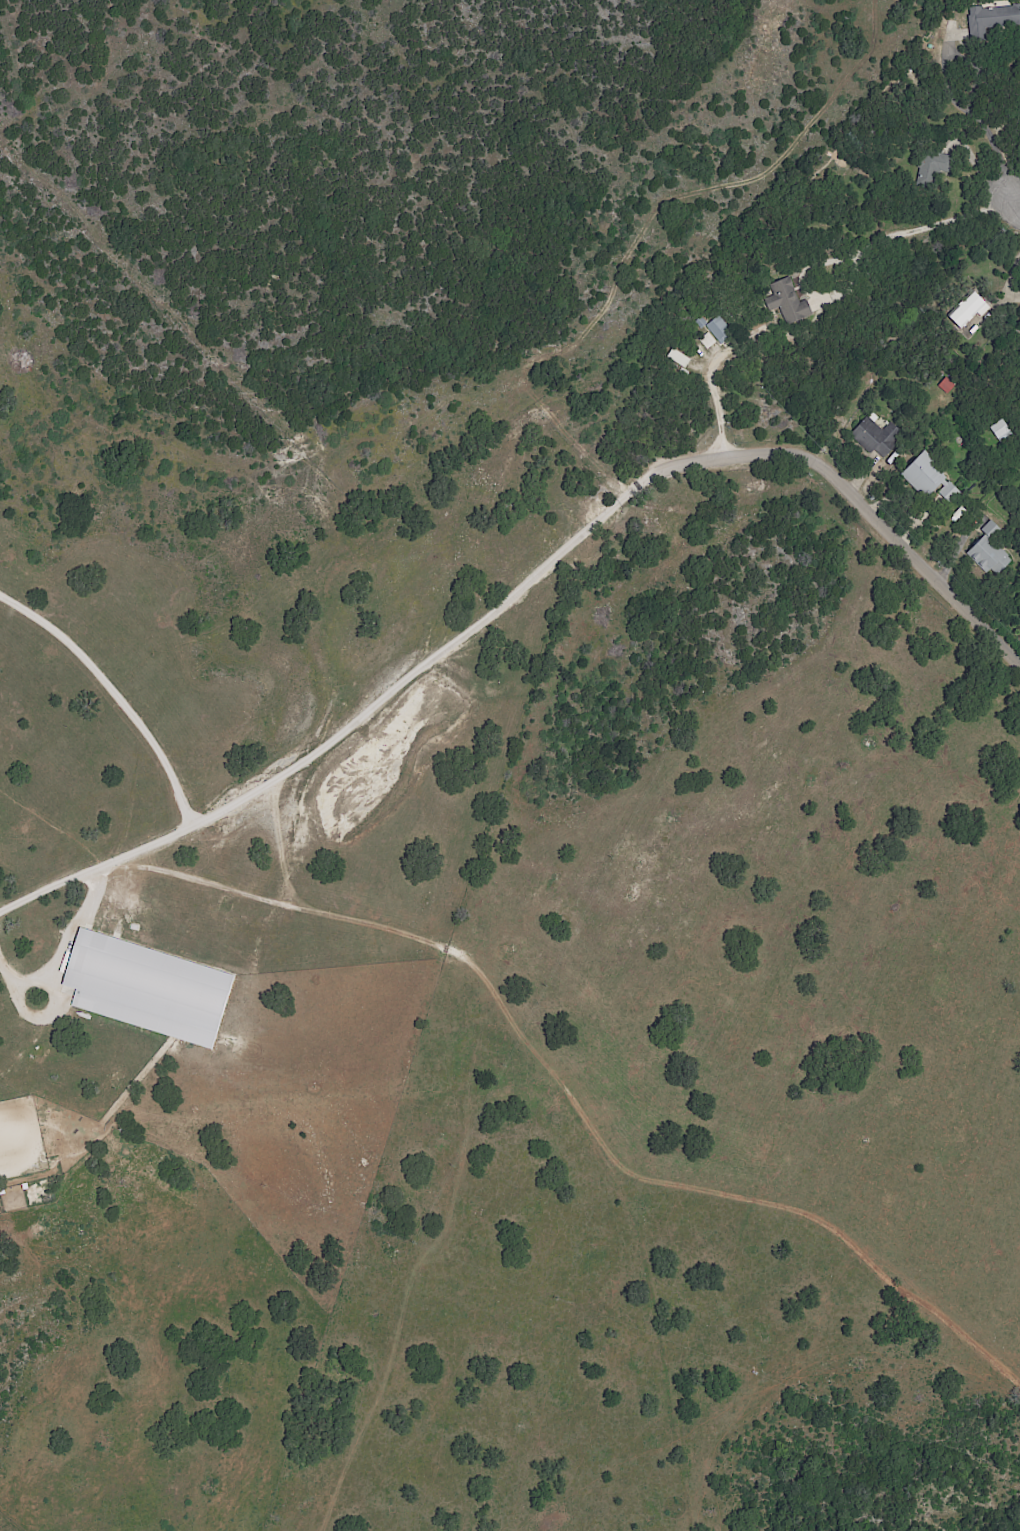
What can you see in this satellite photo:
building: (994, 19)
road: (979, 123)
road: (1007, 209)
road: (928, 224)
road: (1008, 280)
building: (785, 301)
building: (966, 310)
building: (718, 330)
building: (706, 340)
road: (712, 389)
building: (873, 436)
building: (928, 479)
road: (861, 500)
building: (989, 556)
road: (114, 697)
road: (349, 728)
road: (65, 950)
building: (147, 988)

